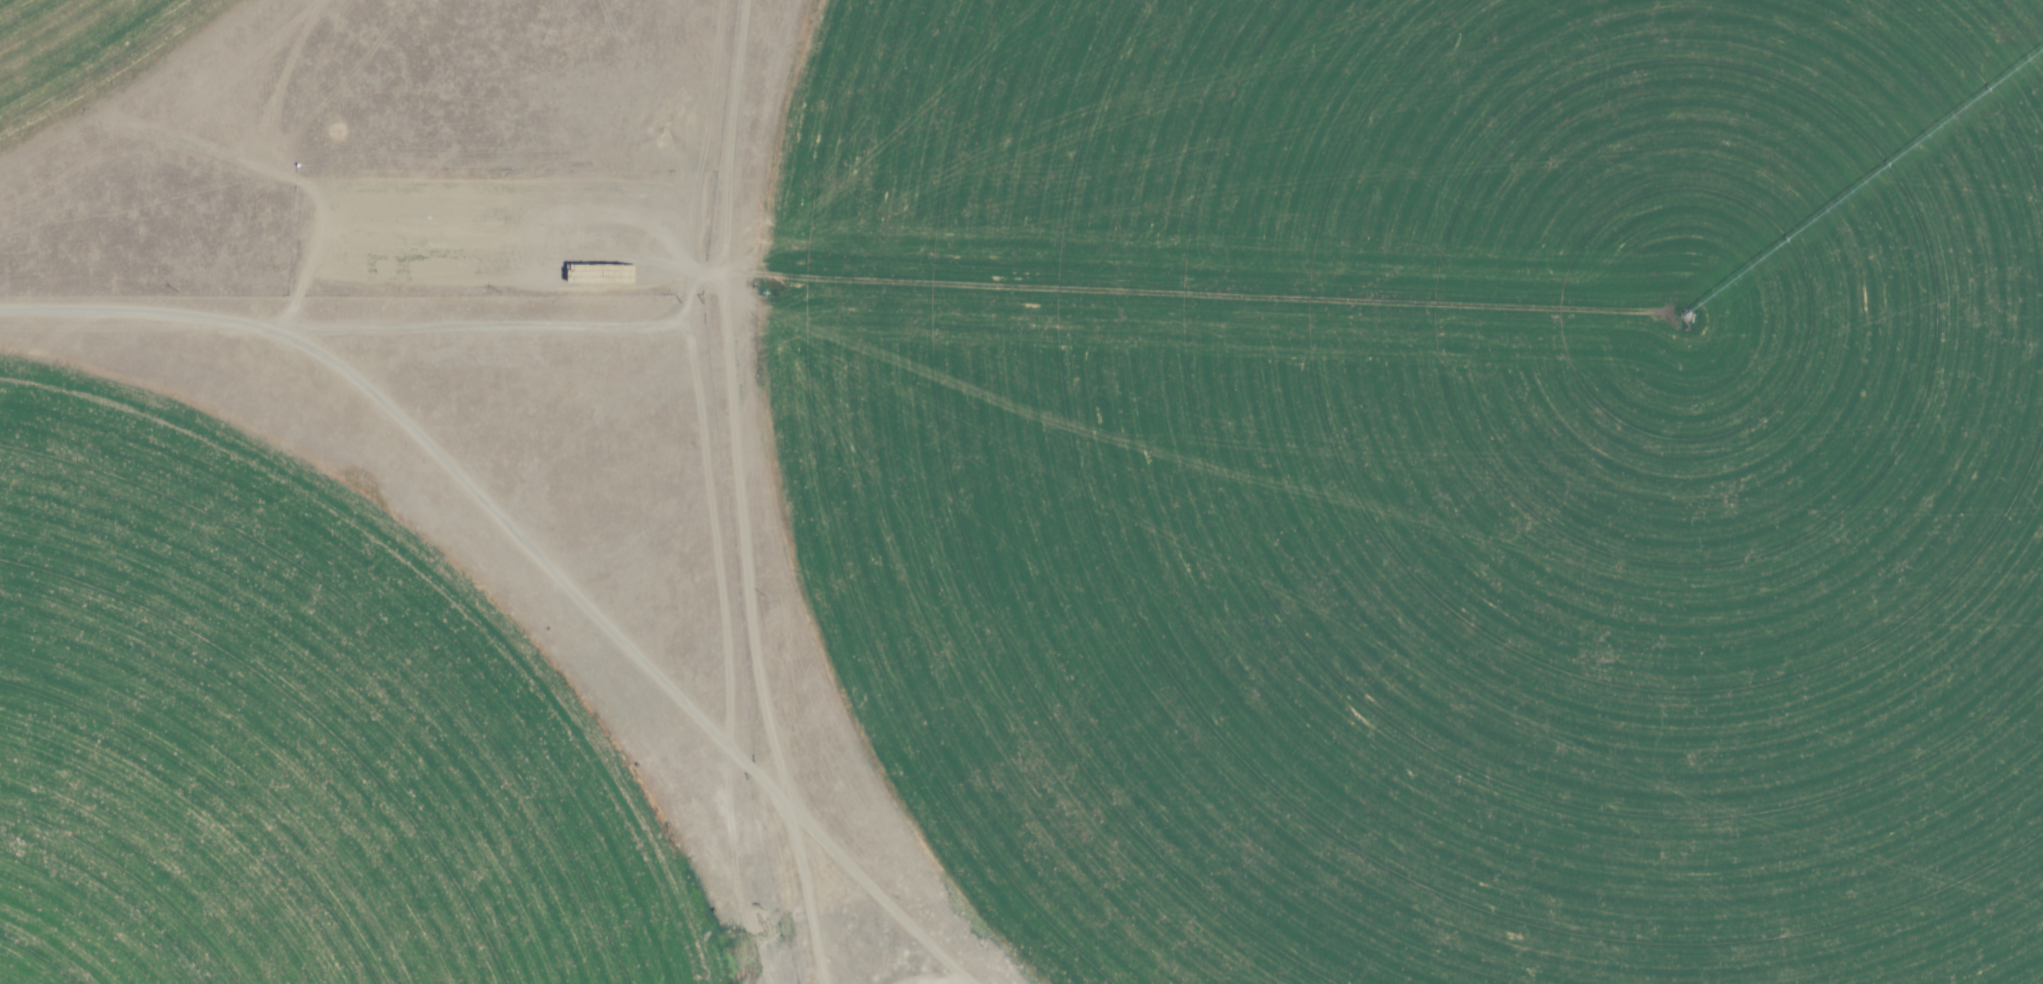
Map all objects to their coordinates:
crop: (85, 55)
road: (367, 311)
road: (754, 492)
crop: (282, 737)

